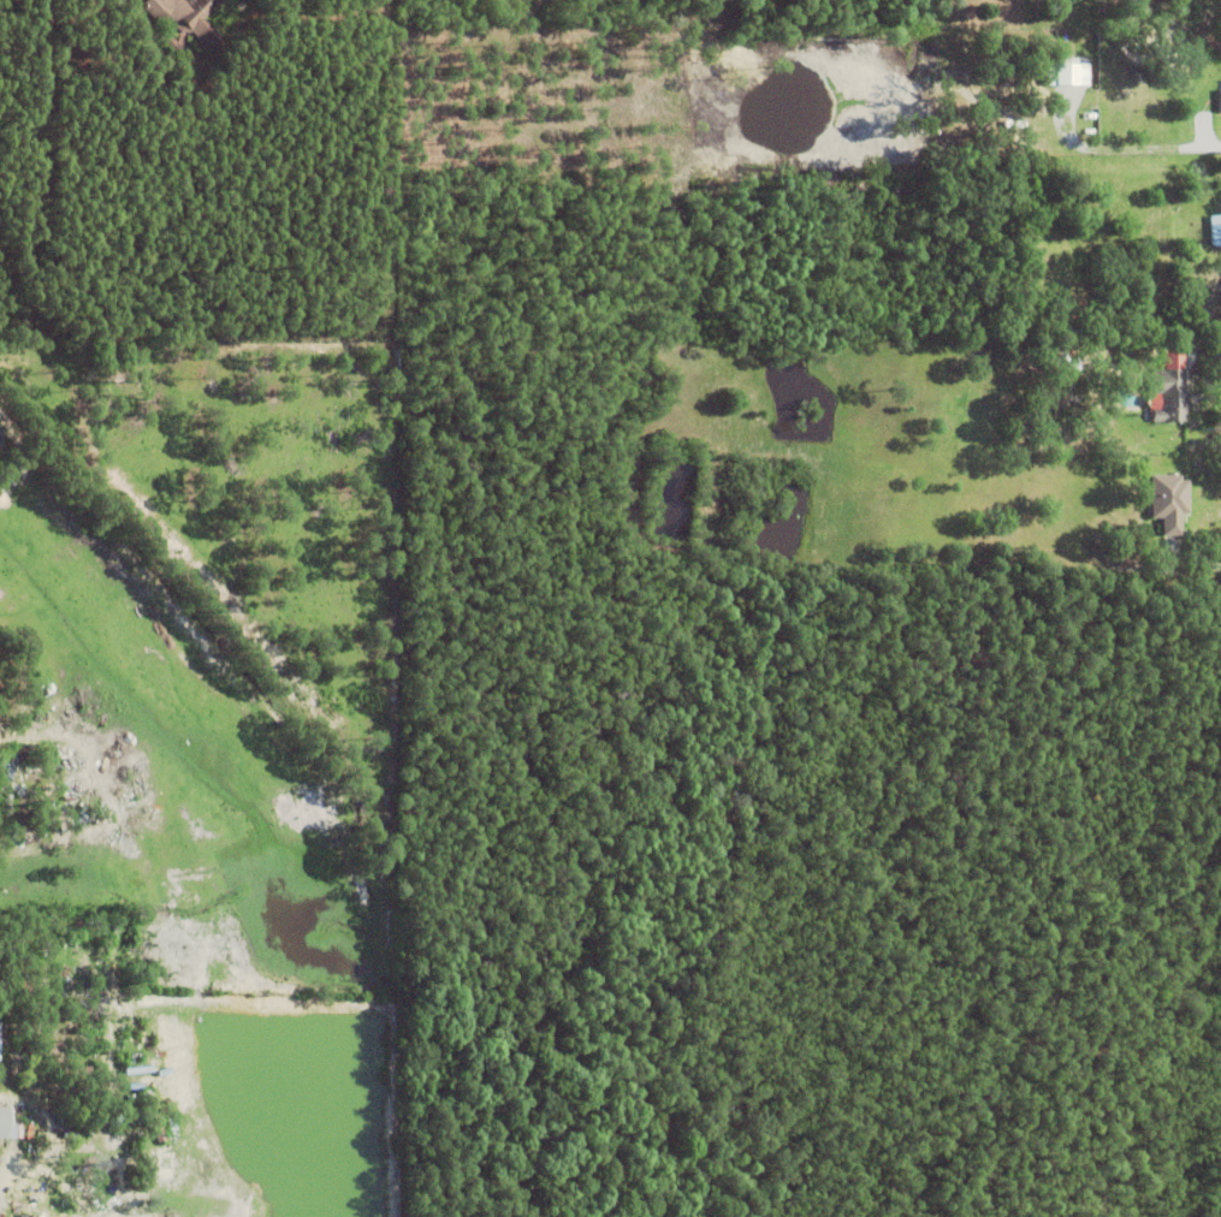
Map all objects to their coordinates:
building: (189, 16)
building: (1065, 73)
building: (1193, 84)
building: (1216, 100)
road: (1215, 150)
building: (1215, 228)
road: (1201, 350)
building: (1134, 352)
building: (1169, 394)
building: (1168, 501)
building: (72, 1069)
building: (75, 1122)
building: (5, 1124)
building: (18, 1132)
building: (29, 1133)

